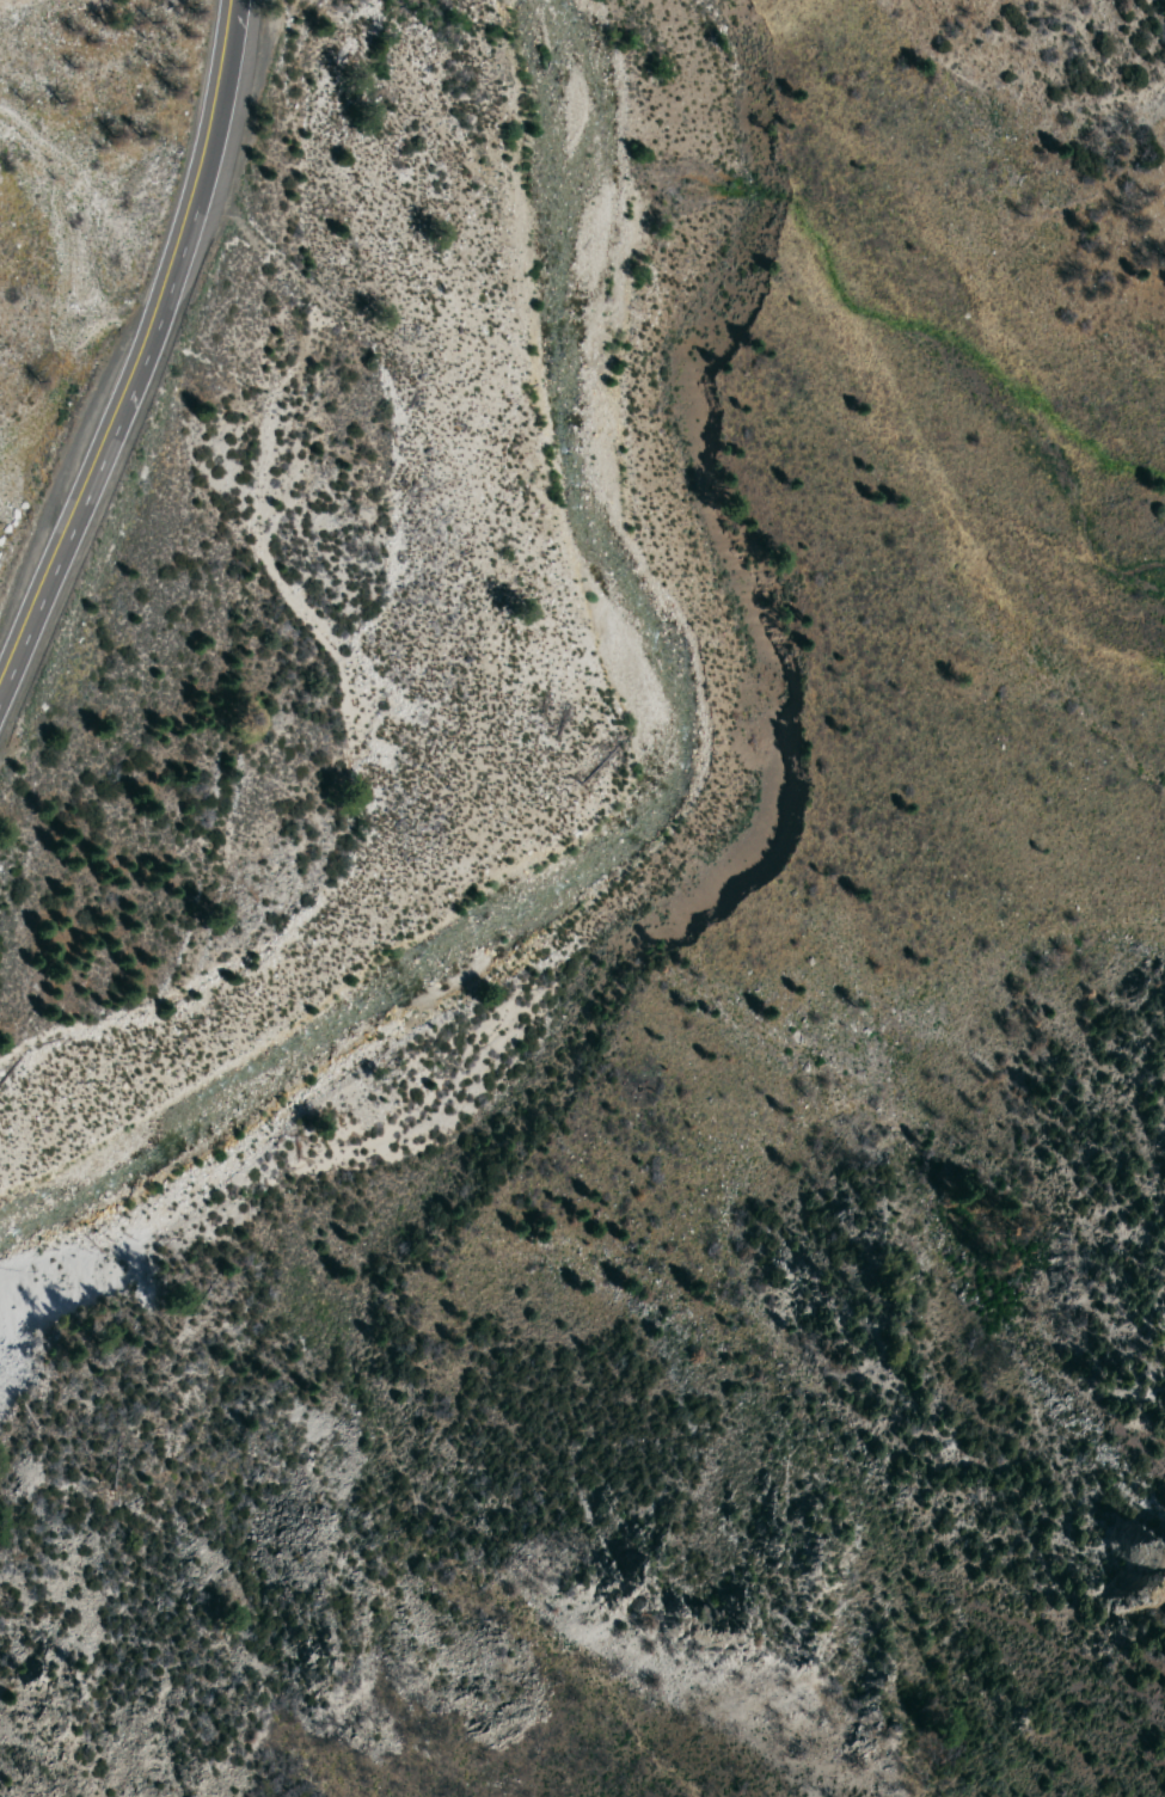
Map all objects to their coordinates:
road: (139, 339)
river: (661, 780)

